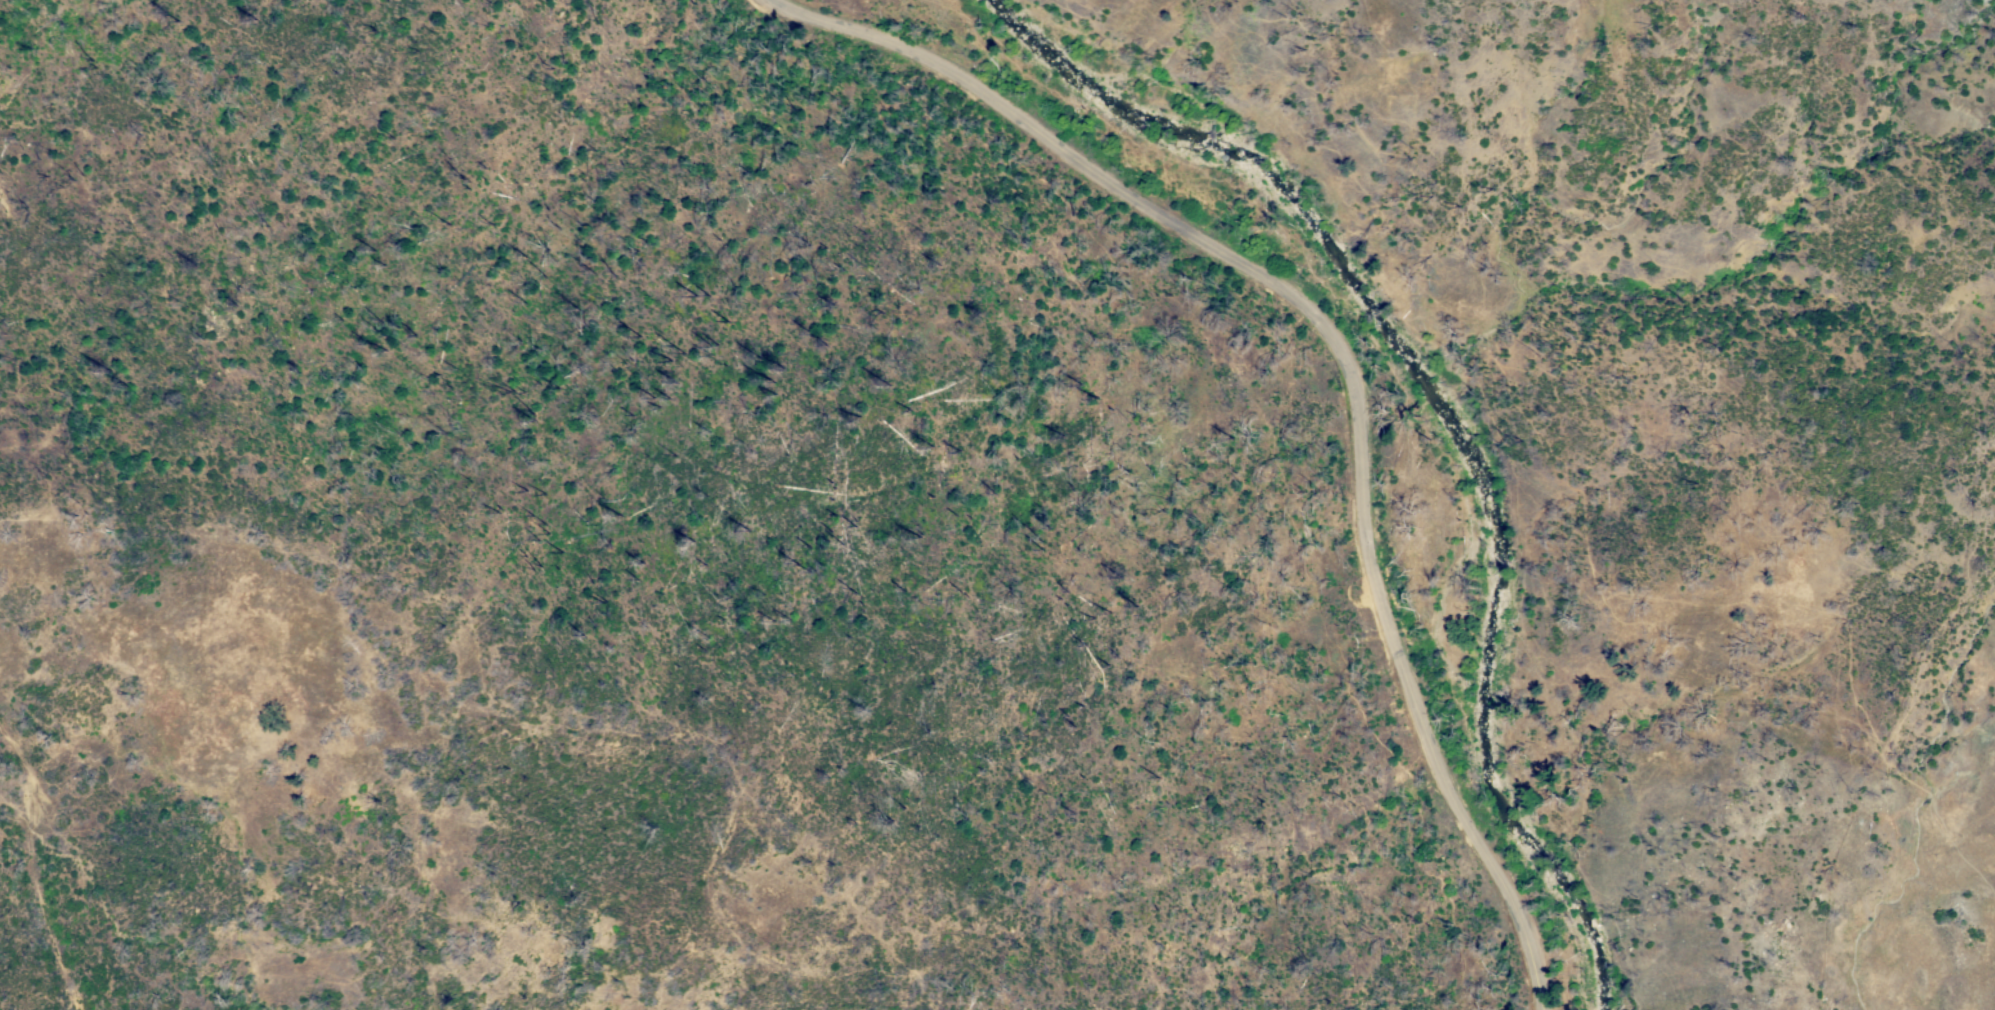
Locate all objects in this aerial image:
road: (1345, 362)
road: (34, 865)

